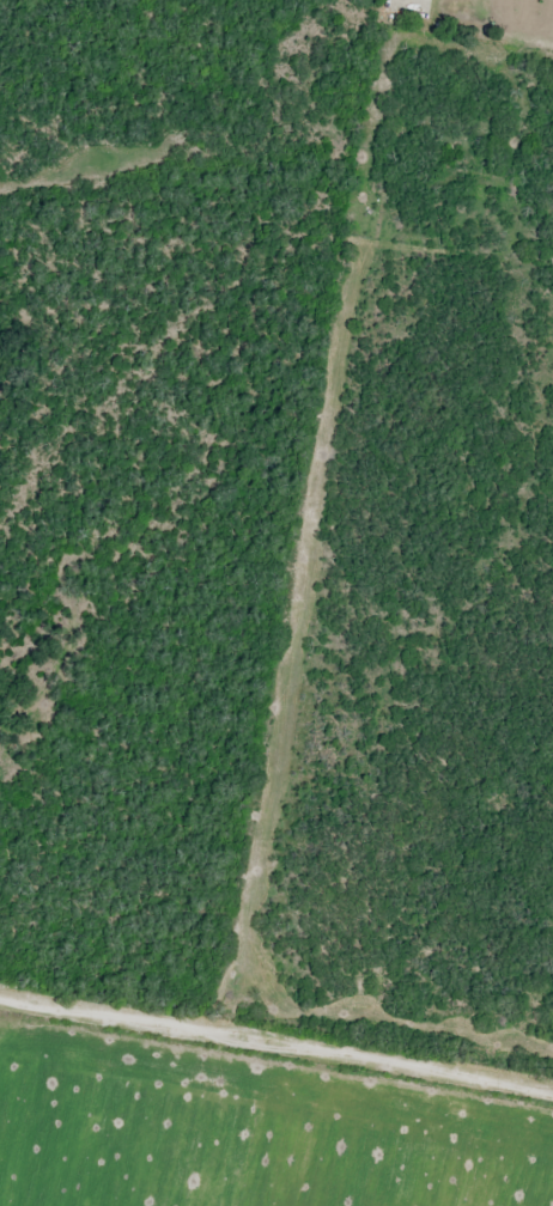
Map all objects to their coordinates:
road: (276, 1040)

